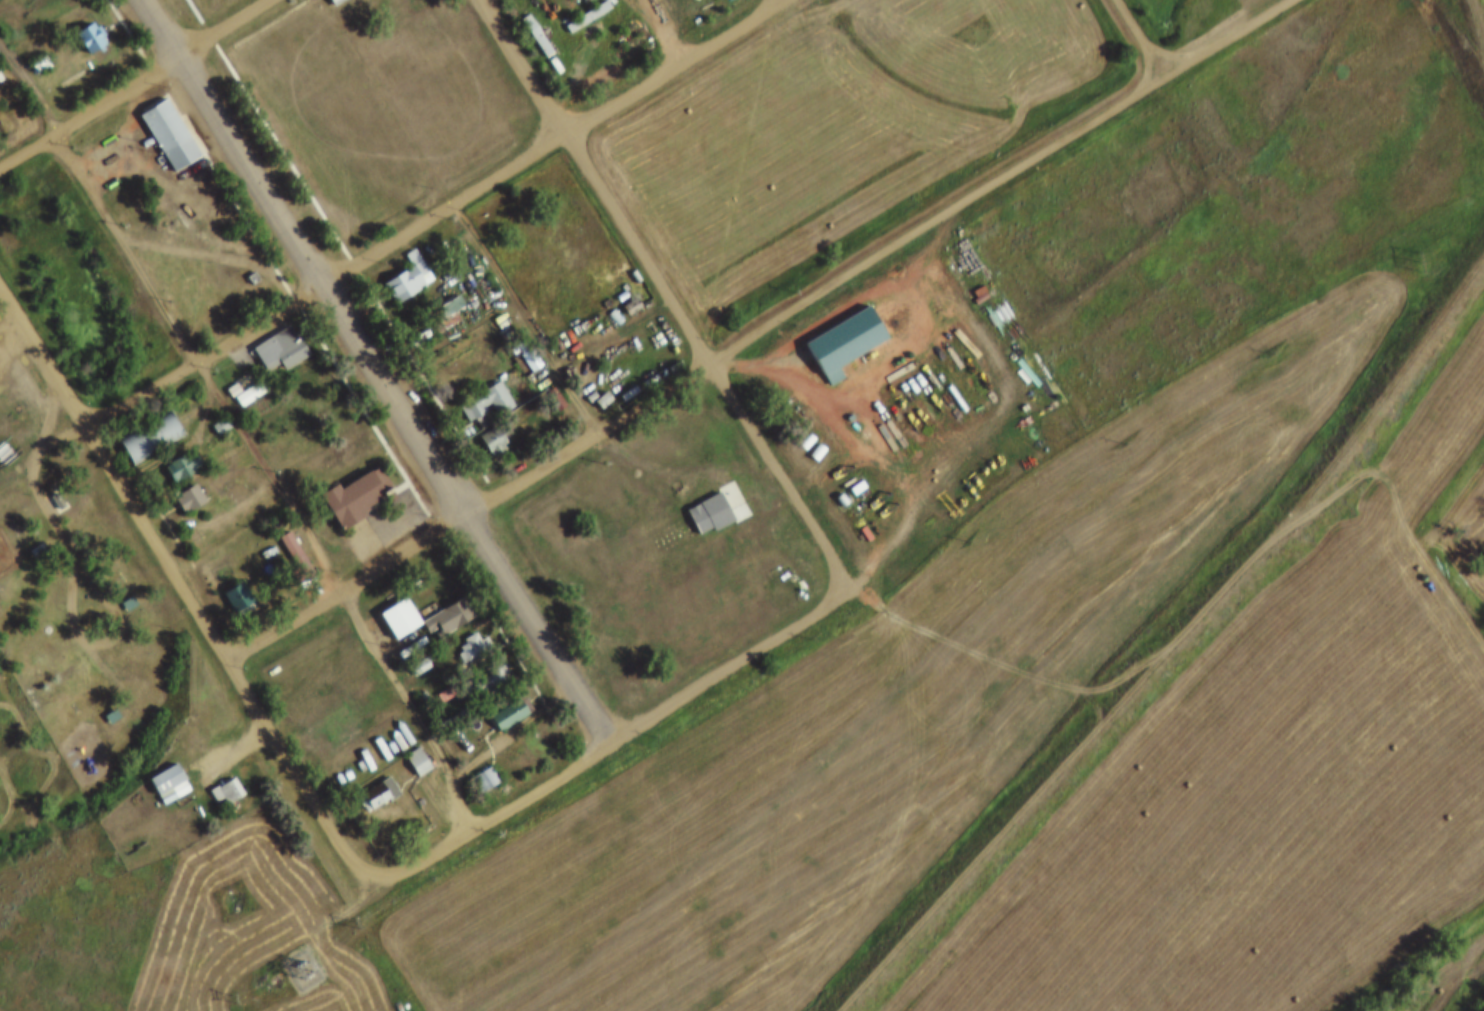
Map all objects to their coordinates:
building: (727, 1)
building: (336, 2)
road: (485, 2)
building: (418, 3)
building: (575, 8)
building: (588, 18)
building: (531, 22)
building: (85, 24)
road: (657, 34)
road: (1473, 36)
road: (1140, 37)
building: (90, 38)
road: (1460, 38)
park: (984, 42)
building: (36, 52)
building: (41, 66)
road: (130, 82)
building: (163, 122)
road: (117, 132)
road: (434, 215)
building: (629, 262)
building: (248, 264)
building: (402, 264)
building: (408, 280)
building: (616, 284)
road: (662, 290)
building: (626, 293)
building: (441, 301)
road: (550, 303)
building: (609, 303)
building: (837, 330)
road: (758, 333)
building: (274, 338)
building: (521, 341)
building: (669, 354)
building: (649, 364)
building: (305, 367)
road: (373, 374)
building: (228, 377)
building: (624, 380)
building: (244, 381)
building: (313, 386)
building: (597, 387)
building: (481, 389)
building: (486, 404)
building: (215, 413)
building: (259, 416)
building: (147, 424)
building: (487, 426)
road: (247, 436)
building: (151, 439)
building: (495, 443)
road: (173, 449)
building: (177, 452)
building: (182, 468)
building: (350, 483)
building: (185, 485)
building: (53, 486)
building: (190, 499)
building: (684, 511)
building: (671, 536)
building: (34, 537)
building: (289, 538)
building: (297, 557)
road: (66, 558)
building: (232, 586)
building: (125, 590)
road: (183, 594)
building: (238, 599)
building: (130, 605)
building: (392, 605)
building: (442, 606)
building: (450, 618)
building: (467, 633)
building: (390, 634)
road: (1172, 639)
building: (474, 648)
building: (414, 653)
building: (421, 667)
building: (485, 669)
building: (492, 682)
building: (436, 683)
building: (108, 701)
building: (505, 701)
building: (509, 716)
building: (339, 729)
road: (512, 736)
road: (615, 739)
building: (411, 749)
building: (418, 763)
building: (476, 767)
building: (162, 771)
building: (221, 778)
building: (371, 780)
building: (482, 783)
building: (170, 785)
building: (227, 792)
building: (379, 796)
road: (334, 919)
power substation: (296, 953)

